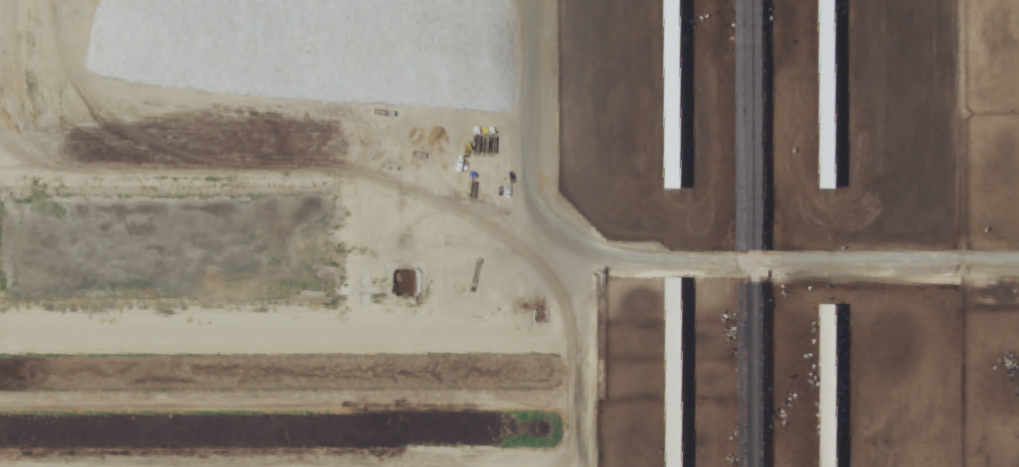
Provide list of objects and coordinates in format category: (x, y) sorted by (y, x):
building: (828, 95)
building: (673, 111)
road: (658, 261)
building: (675, 372)
building: (829, 386)

